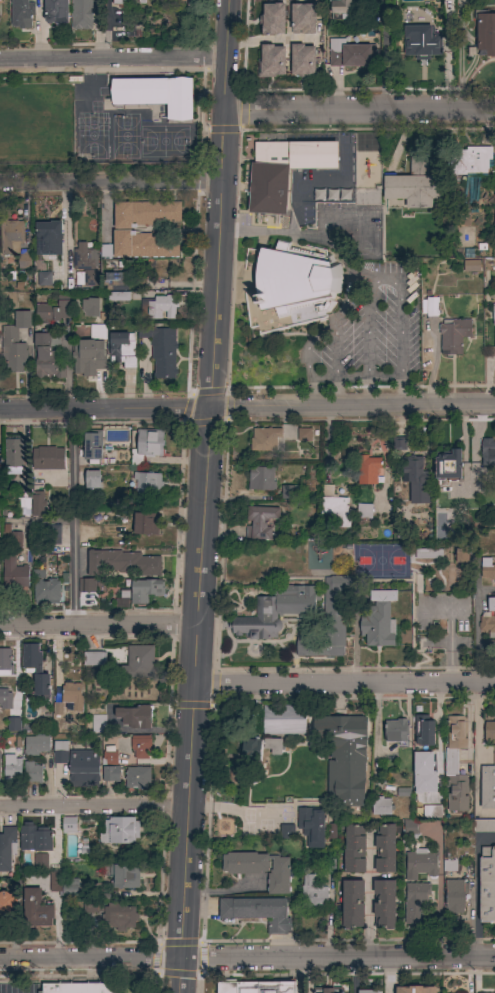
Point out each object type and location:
building: (160, 0)
building: (185, 0)
building: (142, 1)
building: (118, 2)
building: (341, 8)
building: (55, 11)
building: (21, 12)
building: (81, 14)
building: (303, 18)
building: (273, 19)
building: (484, 35)
building: (422, 43)
building: (351, 54)
road: (383, 54)
road: (113, 58)
building: (302, 60)
building: (271, 61)
building: (156, 95)
road: (358, 108)
building: (469, 161)
building: (283, 170)
road: (109, 184)
building: (413, 185)
building: (342, 195)
building: (144, 213)
building: (10, 236)
building: (48, 239)
building: (140, 245)
building: (83, 256)
building: (23, 259)
building: (471, 265)
road: (363, 277)
building: (90, 278)
building: (44, 279)
building: (295, 279)
building: (115, 281)
building: (118, 296)
building: (90, 306)
building: (432, 306)
building: (161, 307)
building: (53, 310)
building: (493, 314)
building: (98, 332)
building: (453, 335)
building: (15, 342)
road: (370, 342)
building: (122, 349)
building: (161, 350)
building: (88, 356)
building: (47, 357)
road: (336, 363)
road: (353, 407)
road: (105, 408)
building: (304, 434)
building: (264, 439)
building: (399, 443)
building: (147, 445)
building: (92, 447)
road: (472, 447)
building: (13, 452)
building: (488, 453)
building: (47, 458)
building: (448, 465)
building: (367, 470)
building: (414, 471)
building: (92, 479)
building: (261, 479)
building: (147, 483)
building: (290, 492)
road: (205, 496)
building: (23, 503)
building: (38, 504)
building: (334, 506)
building: (364, 511)
road: (70, 516)
building: (260, 521)
building: (145, 523)
building: (51, 534)
building: (10, 539)
building: (428, 553)
building: (462, 557)
building: (122, 563)
building: (487, 568)
building: (14, 574)
building: (91, 585)
road: (486, 588)
building: (143, 590)
building: (46, 591)
building: (491, 604)
building: (275, 611)
building: (378, 619)
building: (329, 621)
road: (98, 623)
building: (487, 624)
road: (477, 630)
road: (486, 641)
building: (94, 659)
building: (139, 661)
building: (5, 663)
building: (35, 670)
road: (344, 683)
building: (72, 695)
building: (5, 699)
building: (135, 716)
building: (283, 719)
building: (13, 724)
building: (98, 724)
building: (395, 730)
building: (424, 730)
building: (489, 732)
building: (272, 744)
building: (35, 745)
building: (140, 748)
building: (251, 750)
building: (60, 752)
building: (117, 753)
building: (493, 755)
building: (344, 758)
building: (455, 764)
building: (12, 768)
building: (84, 768)
building: (32, 772)
building: (424, 772)
building: (111, 773)
building: (137, 777)
building: (487, 787)
building: (381, 806)
road: (92, 807)
road: (236, 810)
building: (431, 811)
building: (69, 825)
building: (311, 825)
building: (484, 825)
building: (118, 830)
building: (410, 830)
building: (287, 832)
building: (34, 837)
building: (7, 848)
building: (385, 849)
building: (354, 850)
building: (40, 861)
building: (420, 863)
building: (449, 865)
building: (260, 869)
building: (122, 874)
building: (62, 884)
building: (487, 885)
building: (312, 893)
building: (455, 895)
road: (369, 897)
building: (415, 902)
building: (352, 903)
building: (384, 904)
building: (92, 905)
building: (8, 909)
building: (36, 909)
building: (257, 912)
building: (118, 917)
road: (337, 959)
road: (90, 960)
road: (299, 976)
road: (352, 976)
road: (389, 976)
building: (256, 987)
building: (79, 988)
building: (415, 989)
building: (327, 990)
building: (368, 991)

